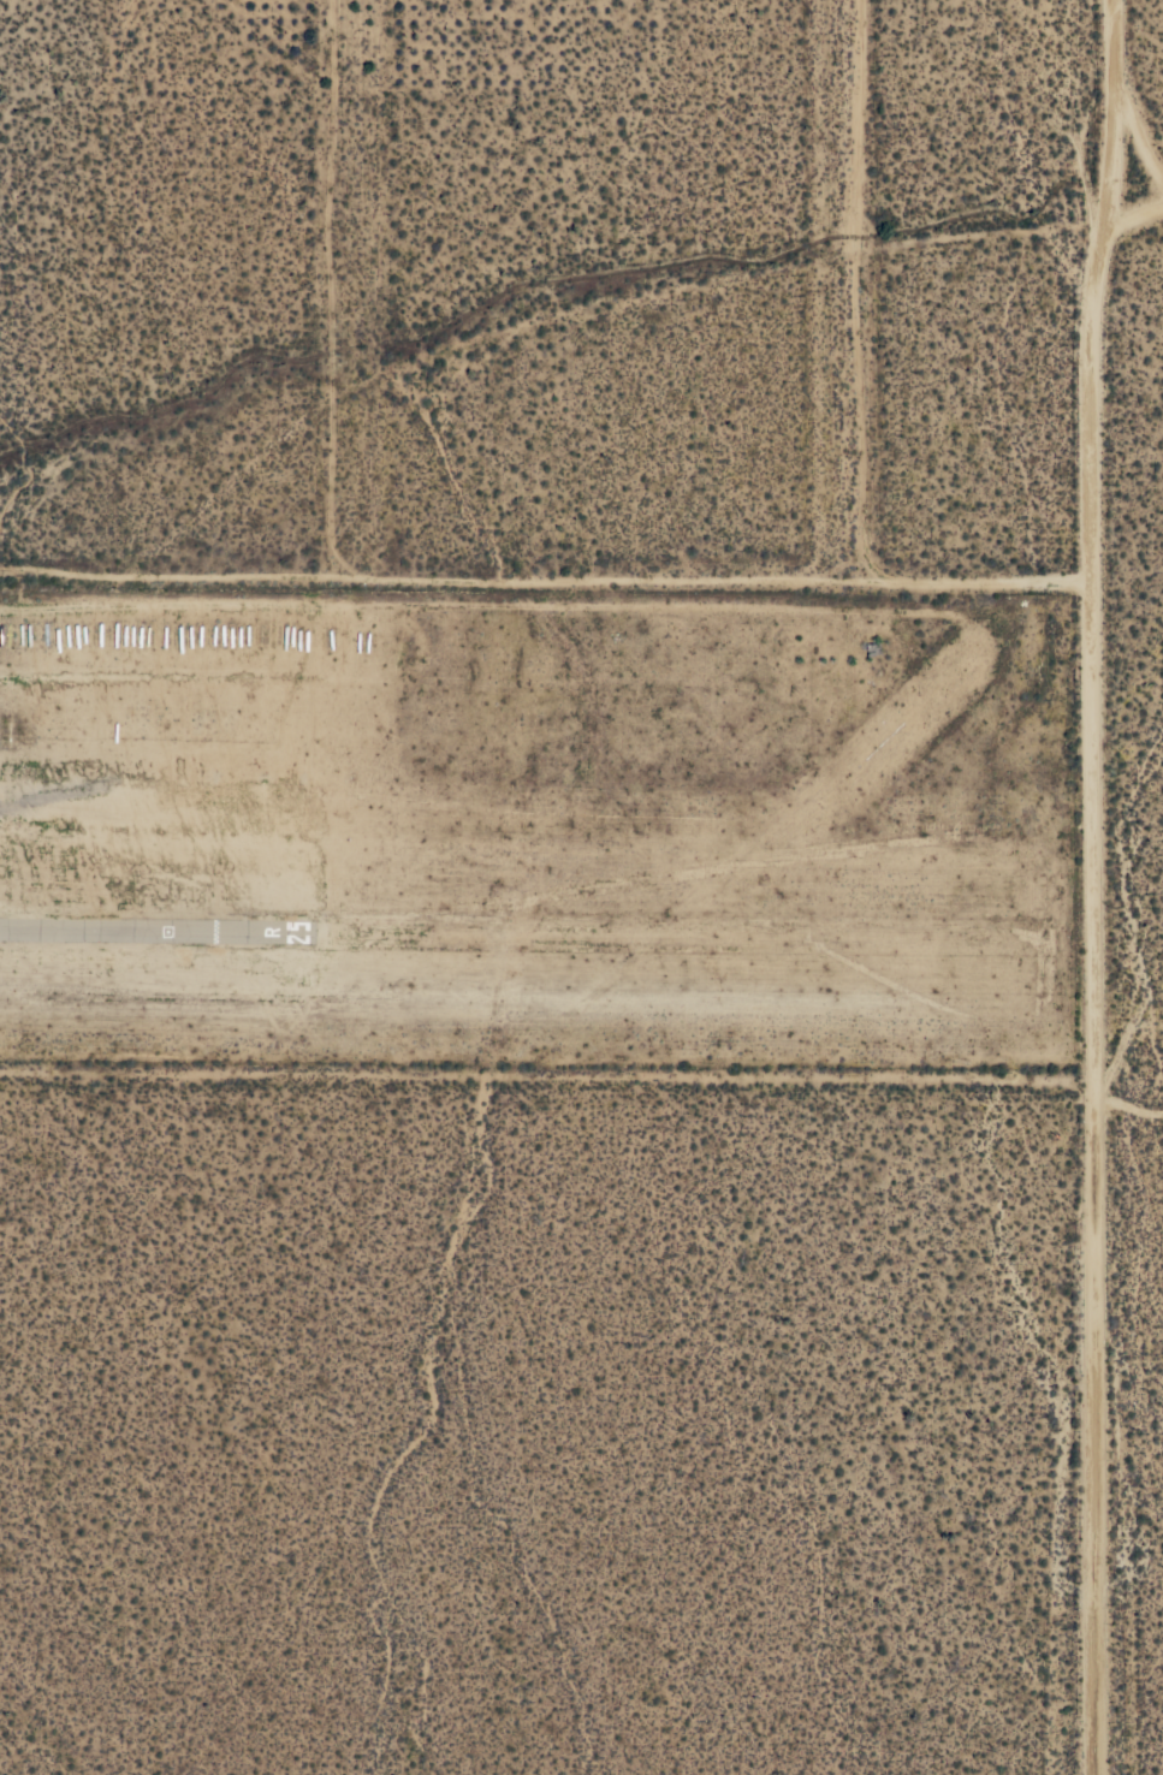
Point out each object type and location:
road: (1135, 214)
road: (336, 287)
road: (858, 289)
road: (546, 577)
airport: (542, 825)
road: (1097, 886)
airport runway: (152, 930)
airport apron: (162, 934)
road: (1131, 1096)

